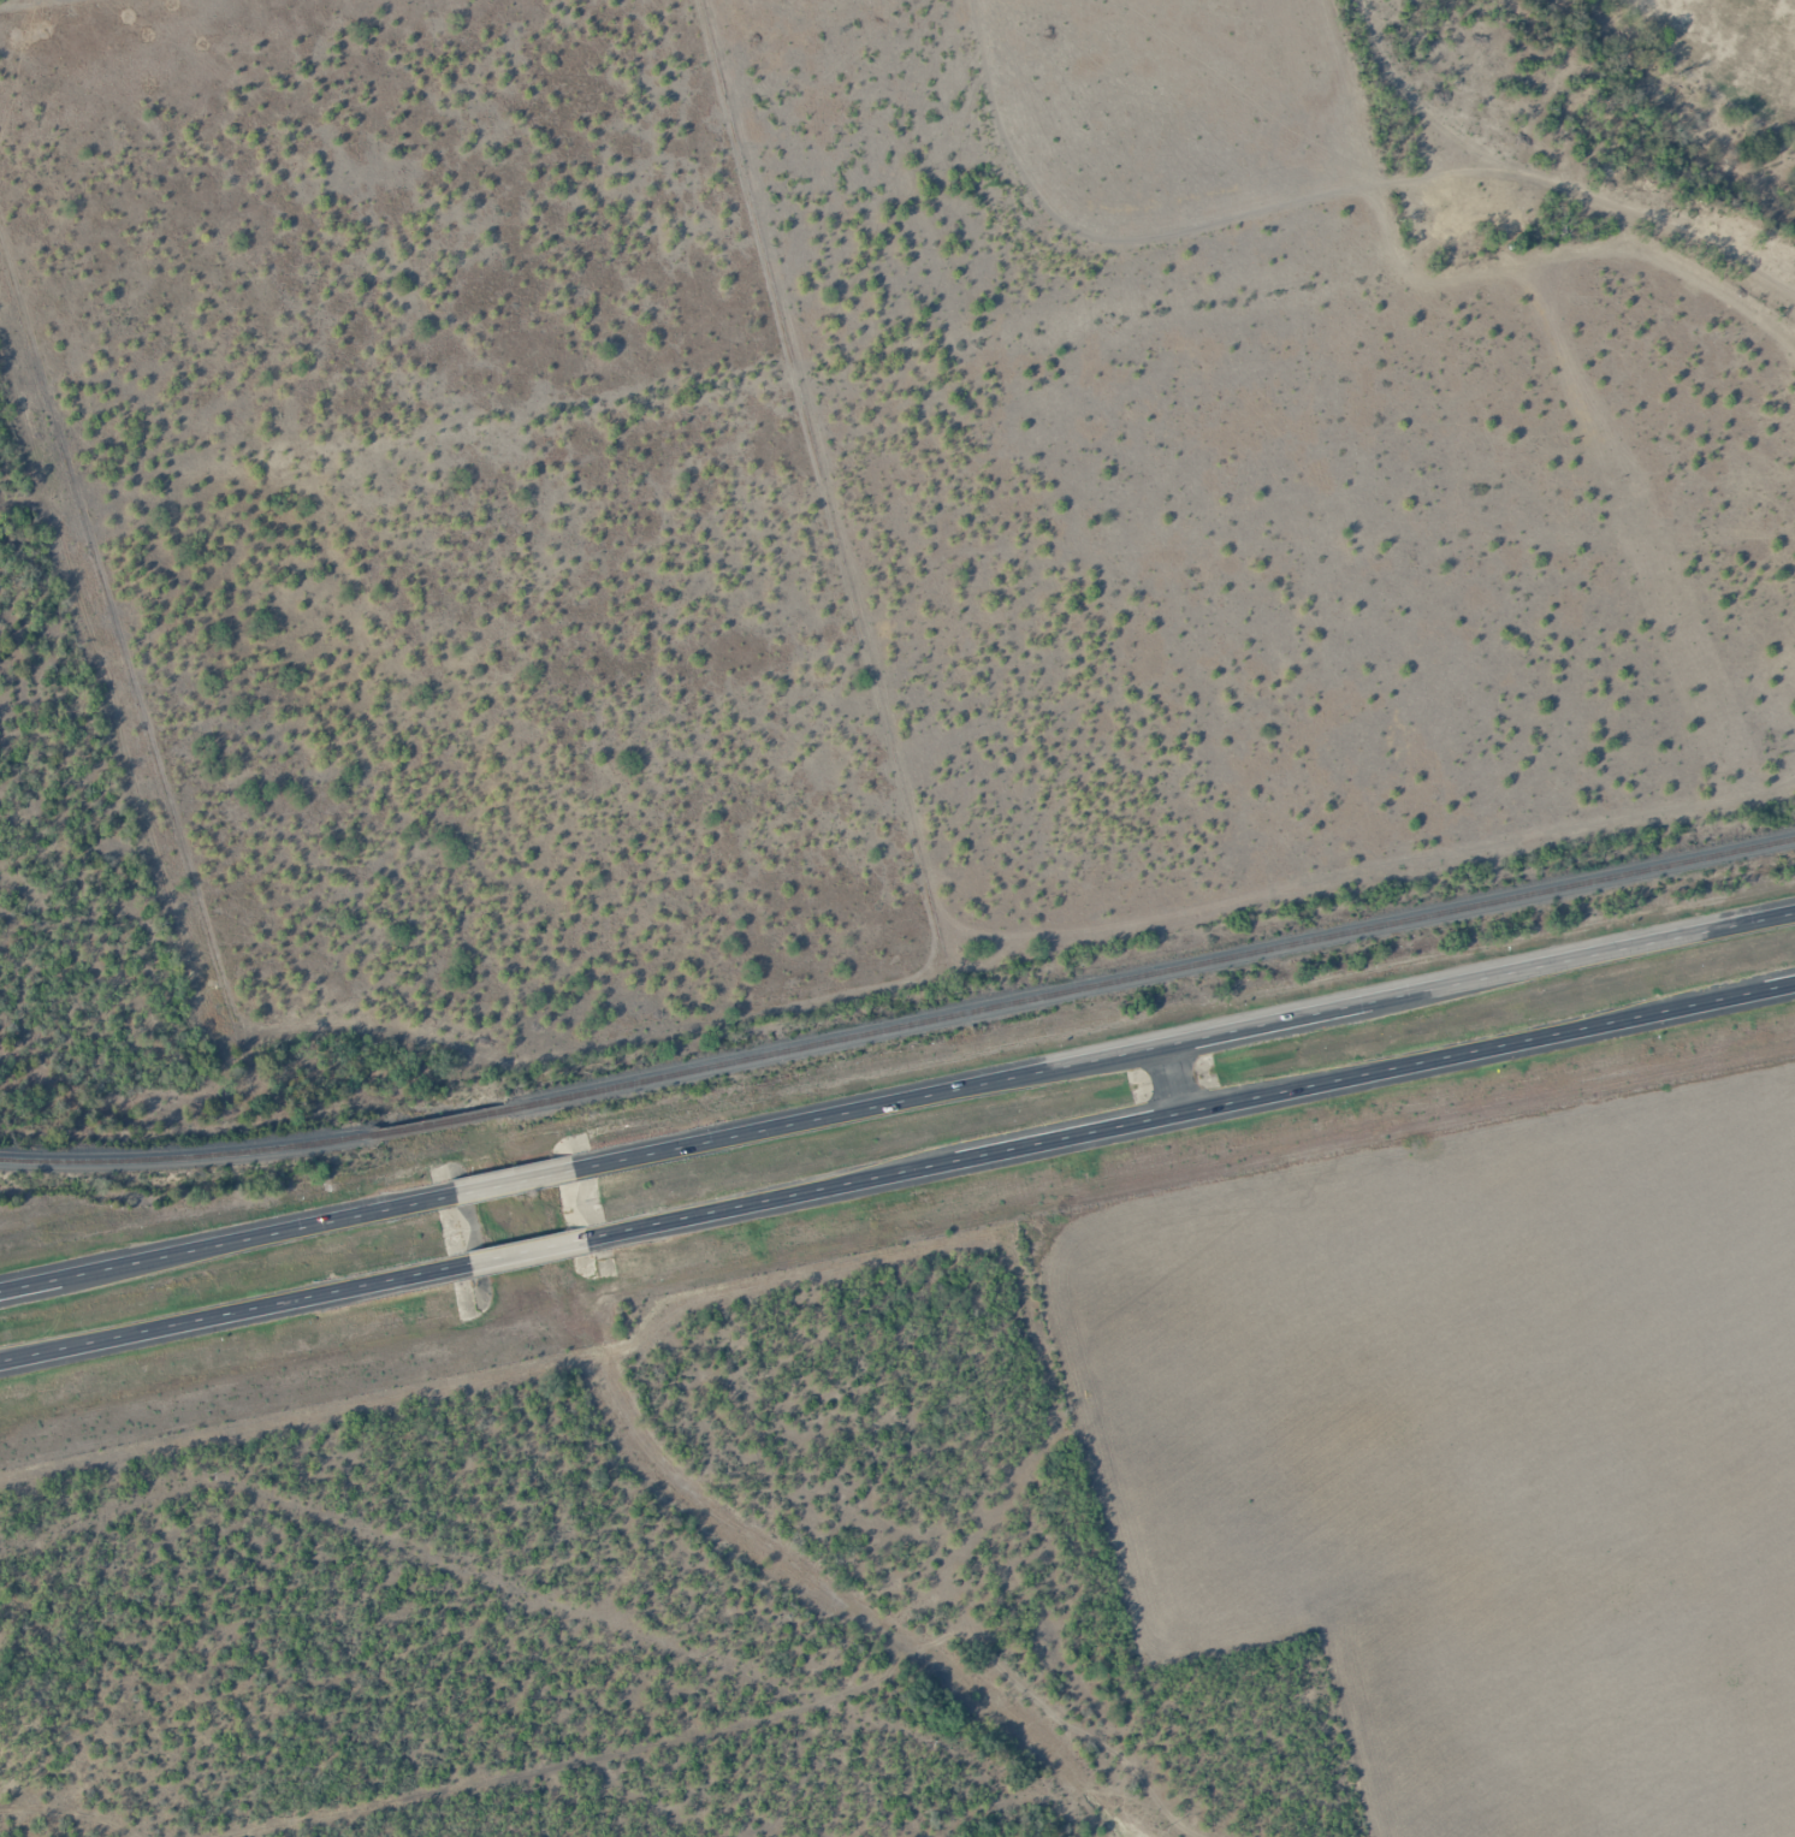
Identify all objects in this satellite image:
railway: (1149, 972)
road: (1190, 1038)
road: (1177, 1077)
road: (1209, 1106)
railway: (442, 1121)
railway: (189, 1155)
road: (521, 1180)
road: (229, 1242)
road: (540, 1248)
road: (227, 1312)
road: (14, 1821)

